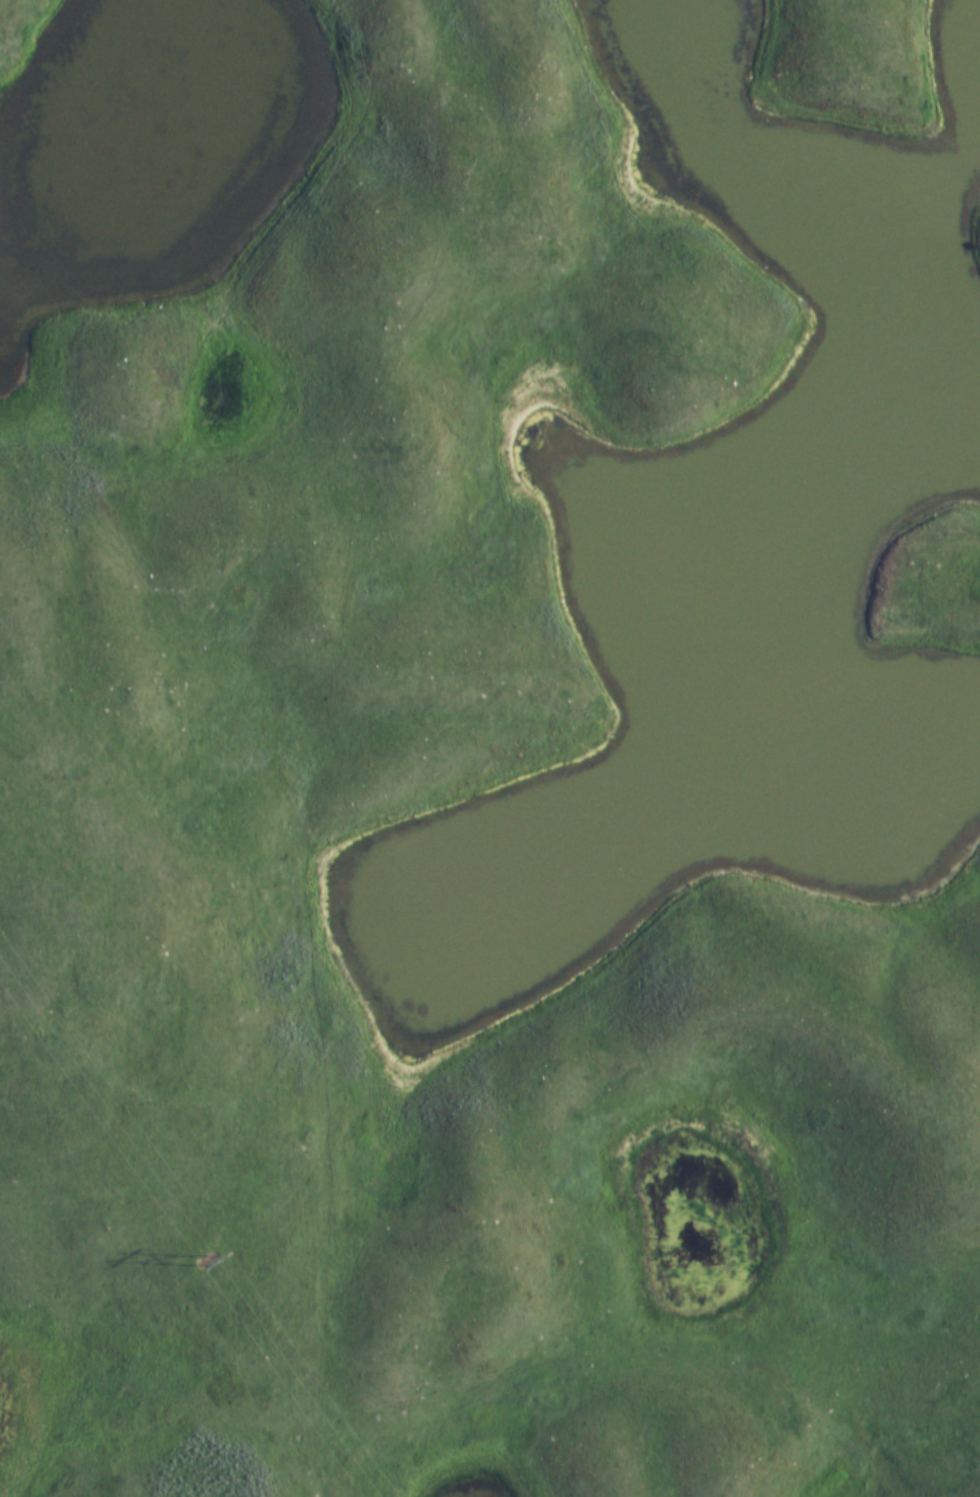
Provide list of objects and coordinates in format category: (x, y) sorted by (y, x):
power tower: (206, 1261)

